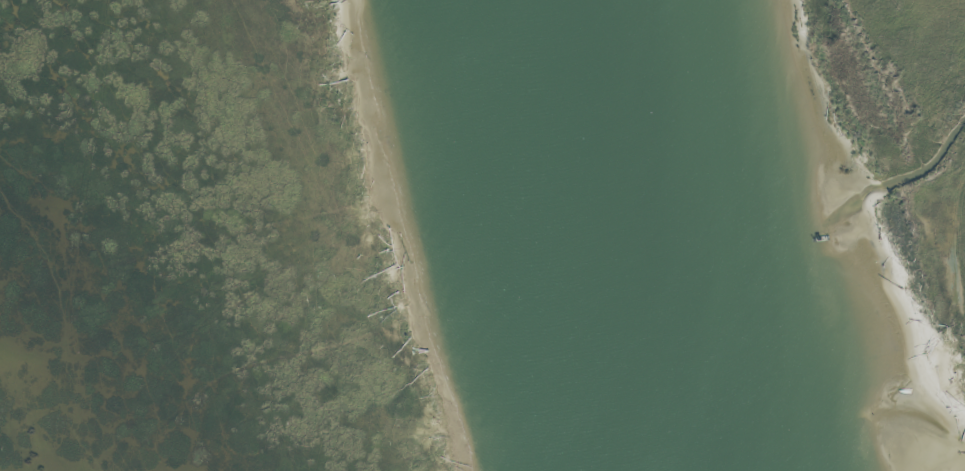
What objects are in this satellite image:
river: (672, 236)

